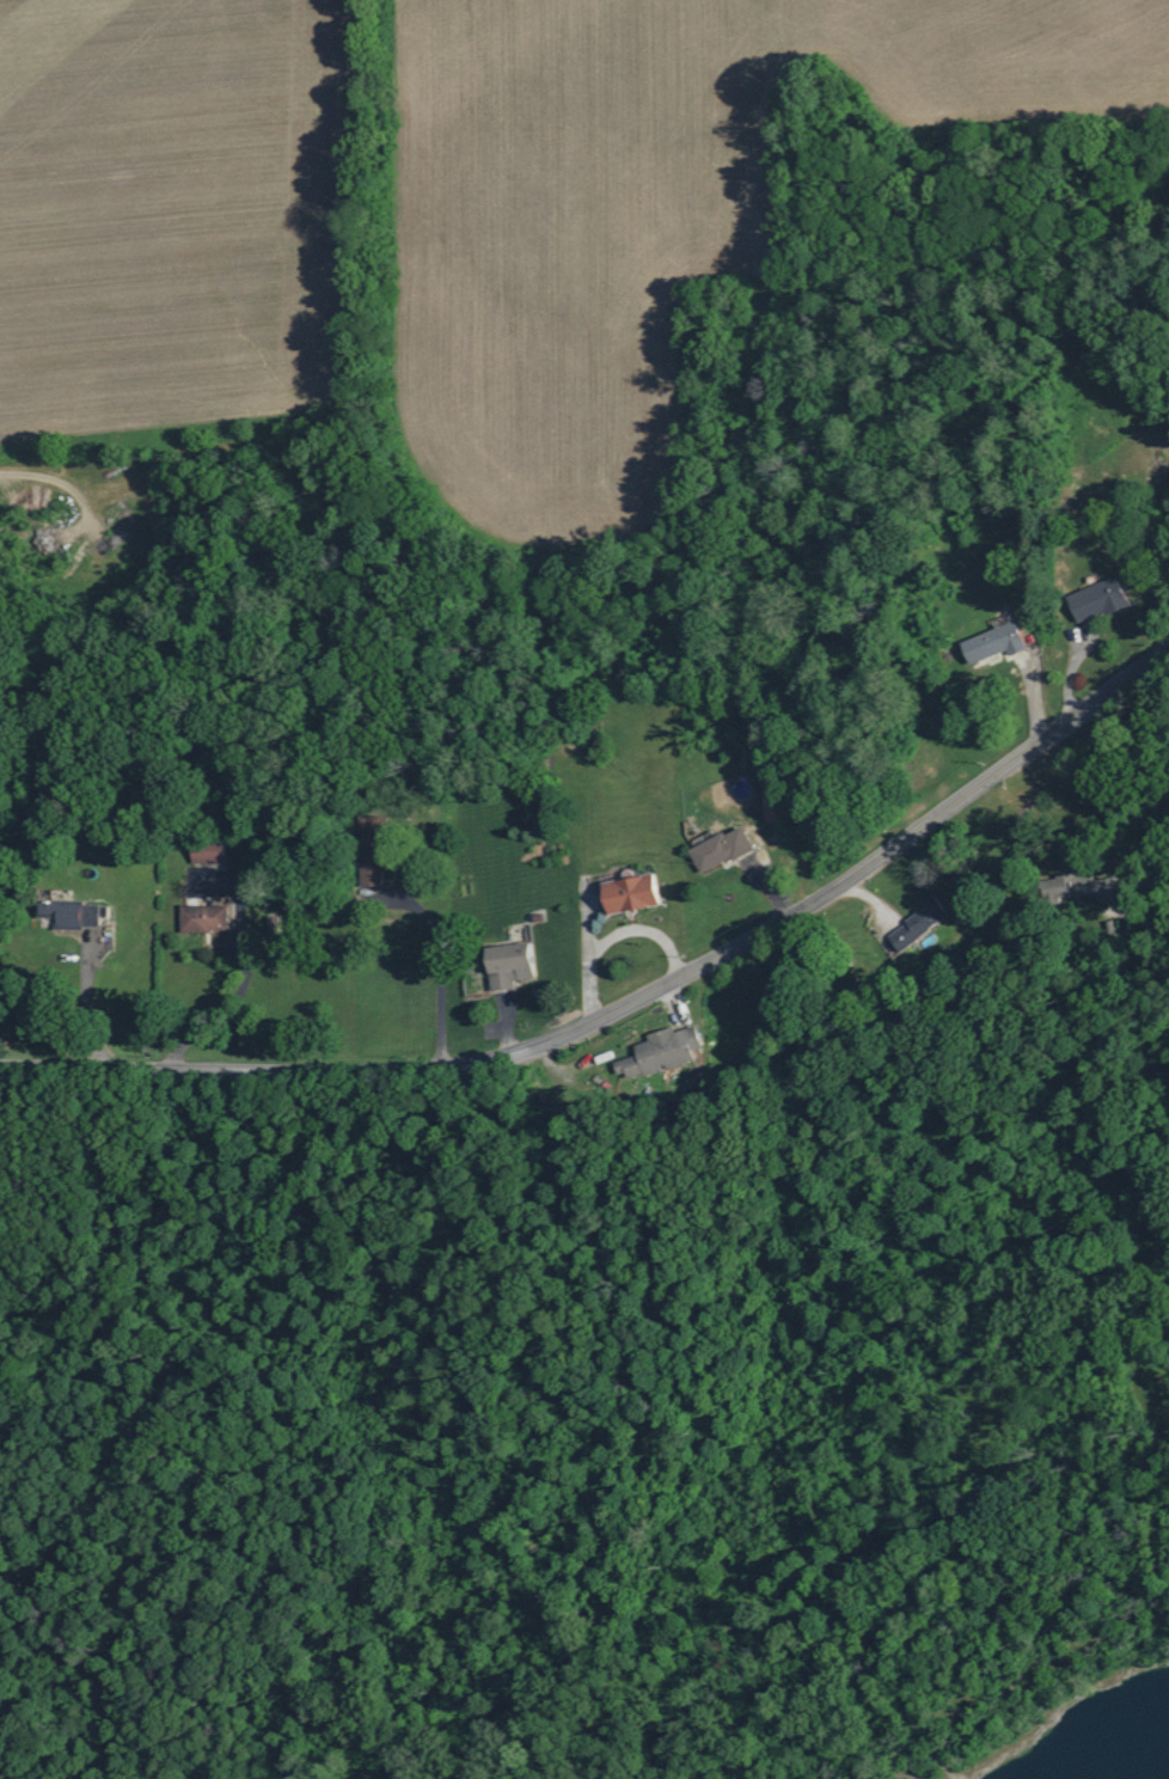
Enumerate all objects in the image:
road: (803, 459)
building: (1101, 599)
building: (998, 640)
road: (1152, 781)
building: (777, 805)
building: (380, 848)
building: (724, 849)
building: (212, 852)
building: (1082, 886)
building: (635, 893)
building: (76, 911)
building: (207, 917)
building: (923, 922)
building: (514, 964)
road: (439, 979)
road: (632, 1014)
building: (663, 1052)

